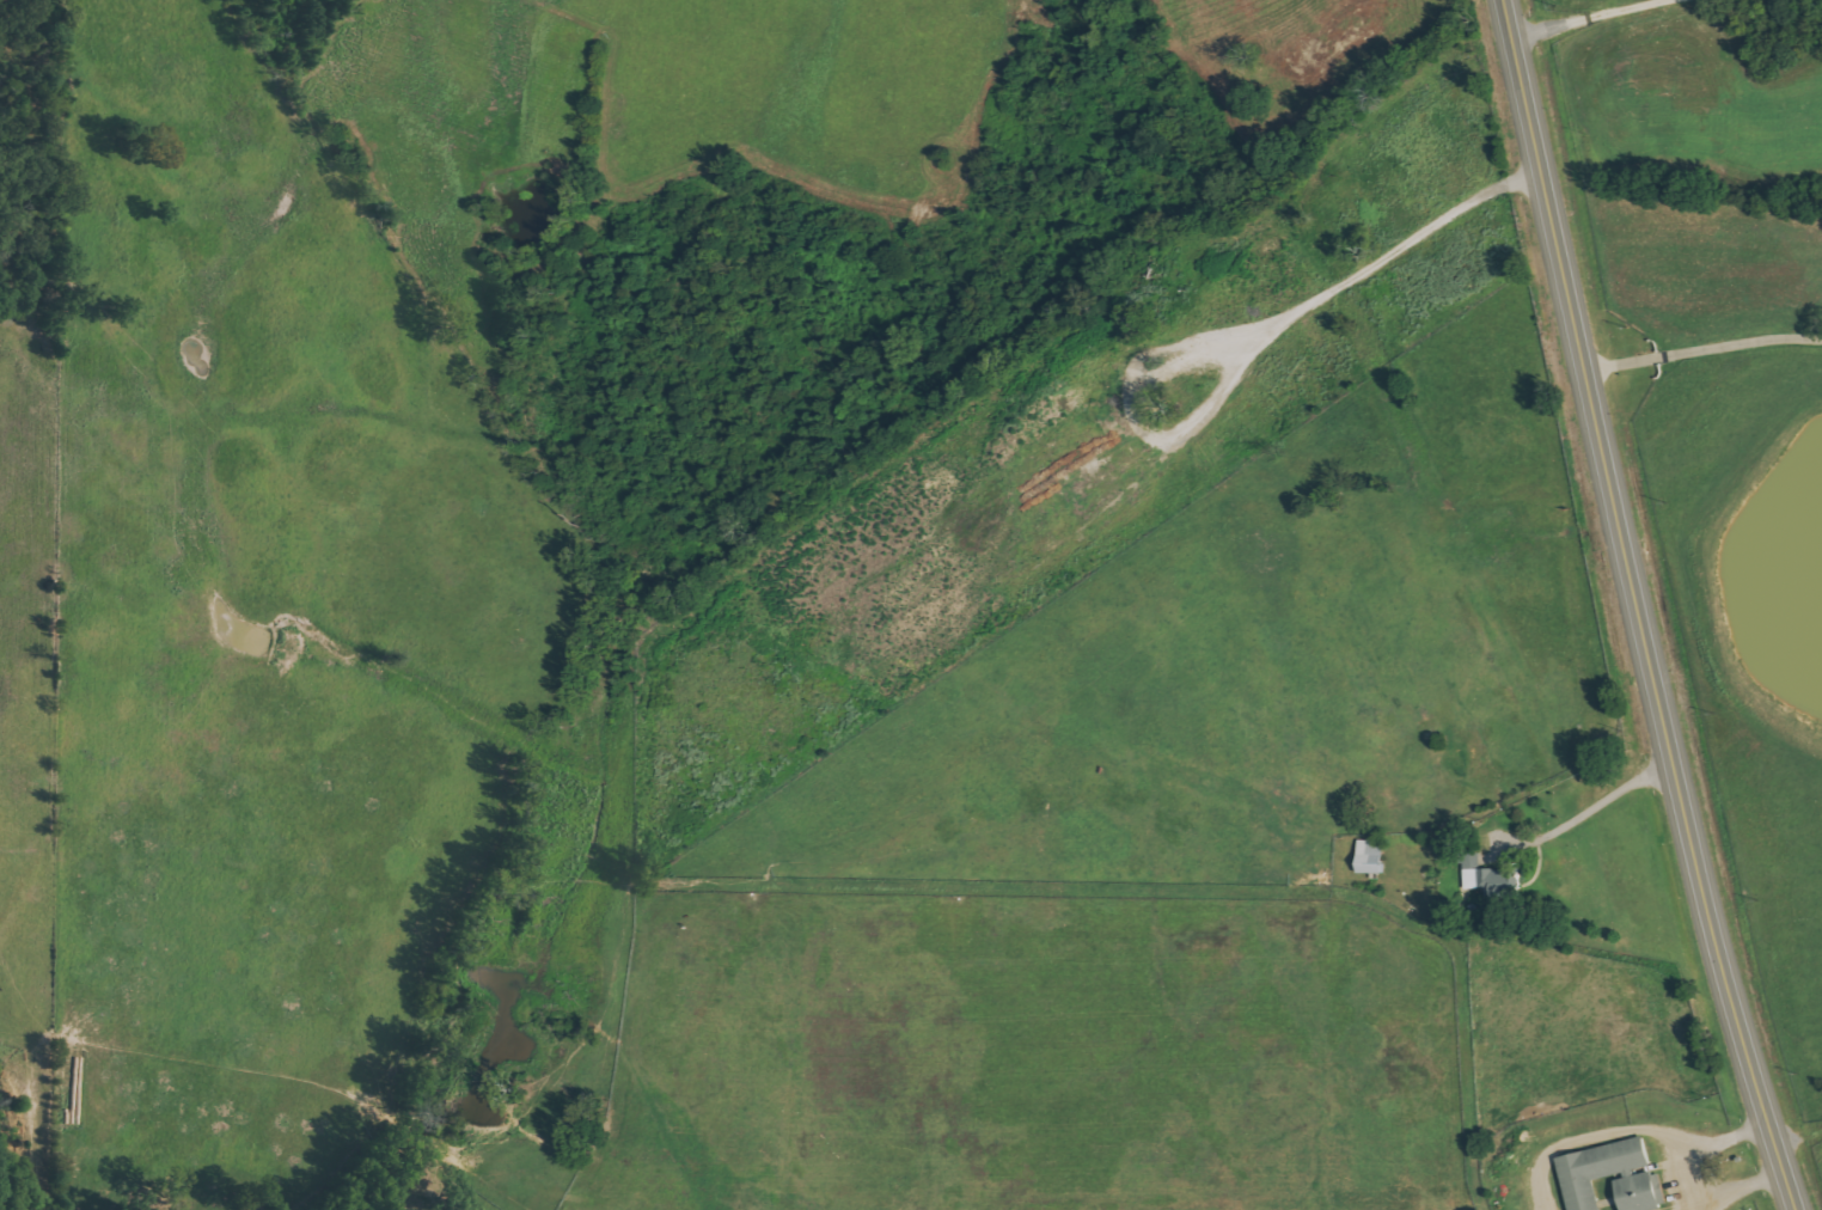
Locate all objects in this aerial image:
road: (1647, 607)
building: (1496, 881)
road: (1779, 974)
building: (1609, 1177)

